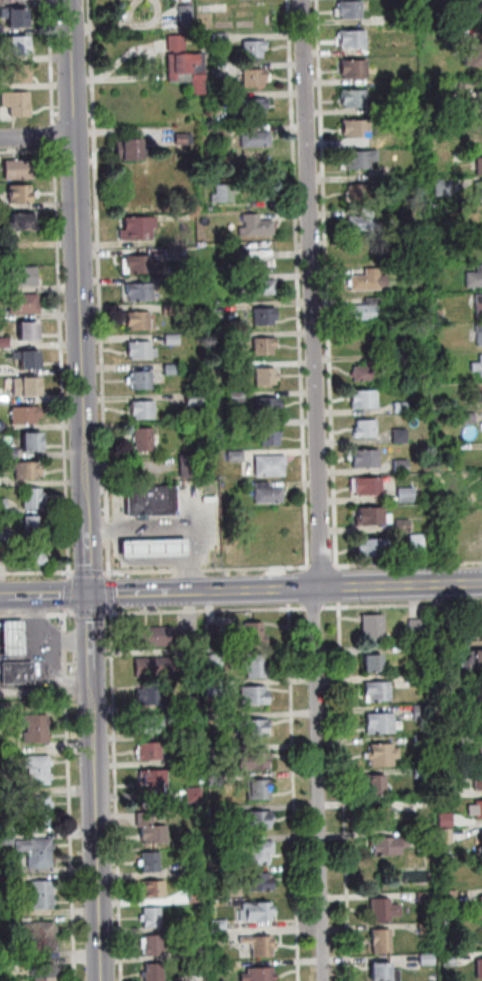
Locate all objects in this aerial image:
building: (16, 1)
building: (461, 1)
building: (351, 7)
building: (478, 10)
building: (189, 18)
building: (17, 20)
building: (2, 30)
building: (352, 37)
building: (222, 38)
building: (255, 49)
building: (20, 50)
building: (473, 51)
building: (188, 66)
building: (353, 66)
road: (154, 71)
building: (255, 78)
building: (21, 79)
building: (436, 87)
building: (355, 96)
building: (479, 98)
building: (224, 100)
building: (17, 103)
building: (257, 106)
building: (388, 108)
building: (356, 127)
road: (38, 135)
building: (255, 138)
building: (184, 139)
building: (131, 147)
building: (360, 157)
building: (479, 163)
building: (20, 169)
building: (443, 187)
building: (478, 188)
building: (22, 192)
building: (358, 192)
building: (225, 193)
building: (211, 209)
building: (366, 220)
building: (21, 221)
building: (257, 227)
building: (139, 228)
road: (79, 245)
building: (366, 249)
building: (176, 253)
building: (253, 254)
building: (140, 264)
road: (328, 275)
building: (475, 276)
building: (23, 277)
building: (369, 279)
road: (299, 285)
building: (258, 286)
road: (101, 290)
building: (140, 292)
road: (314, 293)
building: (25, 303)
building: (479, 304)
building: (368, 308)
building: (173, 310)
building: (266, 317)
building: (141, 321)
building: (30, 331)
building: (479, 333)
building: (235, 337)
building: (173, 340)
building: (5, 342)
building: (265, 347)
building: (142, 350)
building: (28, 358)
building: (477, 365)
building: (173, 370)
building: (369, 370)
building: (5, 371)
building: (267, 377)
building: (142, 380)
building: (27, 386)
building: (480, 394)
building: (238, 397)
building: (364, 398)
building: (195, 399)
building: (269, 406)
building: (402, 407)
building: (144, 410)
building: (26, 414)
building: (468, 416)
building: (2, 425)
building: (366, 428)
building: (400, 435)
building: (272, 436)
building: (145, 440)
building: (33, 443)
building: (11, 453)
building: (236, 456)
building: (367, 458)
building: (271, 465)
building: (402, 466)
building: (190, 467)
building: (29, 470)
building: (367, 485)
road: (335, 492)
building: (268, 493)
building: (406, 495)
building: (34, 497)
building: (152, 501)
building: (4, 505)
building: (373, 515)
building: (34, 525)
building: (403, 525)
road: (68, 526)
road: (140, 530)
building: (4, 533)
road: (191, 540)
building: (417, 541)
road: (89, 542)
building: (374, 545)
building: (155, 546)
building: (4, 552)
building: (34, 555)
road: (408, 563)
traffic signals: (90, 565)
road: (323, 566)
road: (208, 570)
road: (38, 573)
road: (91, 573)
road: (397, 585)
road: (339, 586)
road: (299, 587)
road: (232, 590)
road: (121, 593)
road: (71, 594)
road: (111, 594)
traffic signals: (121, 594)
road: (49, 595)
traffic signals: (62, 595)
road: (3, 597)
road: (402, 605)
road: (315, 608)
road: (206, 611)
road: (91, 614)
road: (38, 615)
traffic signals: (92, 621)
building: (476, 623)
building: (440, 625)
road: (37, 626)
building: (417, 627)
building: (373, 629)
building: (212, 631)
building: (256, 635)
building: (14, 636)
building: (156, 636)
road: (65, 642)
building: (417, 648)
building: (475, 660)
building: (216, 662)
road: (49, 663)
building: (375, 663)
building: (256, 666)
road: (94, 667)
building: (155, 667)
building: (18, 674)
building: (418, 679)
building: (46, 684)
building: (215, 689)
building: (378, 692)
building: (153, 694)
building: (255, 695)
building: (191, 703)
building: (421, 713)
building: (477, 719)
building: (37, 722)
building: (155, 722)
building: (382, 724)
building: (256, 729)
building: (184, 732)
building: (37, 736)
building: (422, 743)
building: (479, 750)
building: (151, 751)
building: (384, 755)
building: (193, 757)
building: (39, 762)
building: (253, 762)
building: (424, 773)
building: (40, 776)
building: (154, 779)
building: (216, 780)
building: (478, 780)
road: (320, 784)
building: (378, 786)
building: (445, 790)
building: (259, 791)
road: (295, 792)
road: (345, 792)
road: (71, 794)
road: (117, 794)
building: (195, 795)
building: (423, 802)
building: (39, 804)
building: (476, 810)
building: (217, 812)
building: (380, 817)
building: (39, 819)
building: (258, 819)
building: (446, 820)
building: (7, 827)
building: (152, 829)
building: (445, 836)
building: (7, 839)
building: (423, 840)
building: (481, 840)
building: (36, 845)
building: (388, 846)
building: (262, 851)
building: (41, 860)
road: (99, 861)
building: (152, 862)
building: (192, 868)
building: (11, 869)
building: (217, 874)
building: (259, 882)
building: (42, 887)
building: (153, 890)
building: (198, 896)
building: (425, 898)
building: (449, 898)
building: (42, 902)
building: (481, 907)
building: (15, 911)
building: (384, 911)
building: (257, 913)
building: (153, 918)
building: (219, 924)
building: (44, 929)
building: (427, 929)
building: (221, 936)
building: (382, 942)
building: (44, 943)
building: (153, 945)
building: (261, 946)
building: (194, 952)
building: (427, 960)
building: (449, 960)
building: (480, 969)
building: (44, 971)
building: (155, 972)
building: (384, 972)
building: (260, 974)
building: (197, 978)
building: (45, 979)

